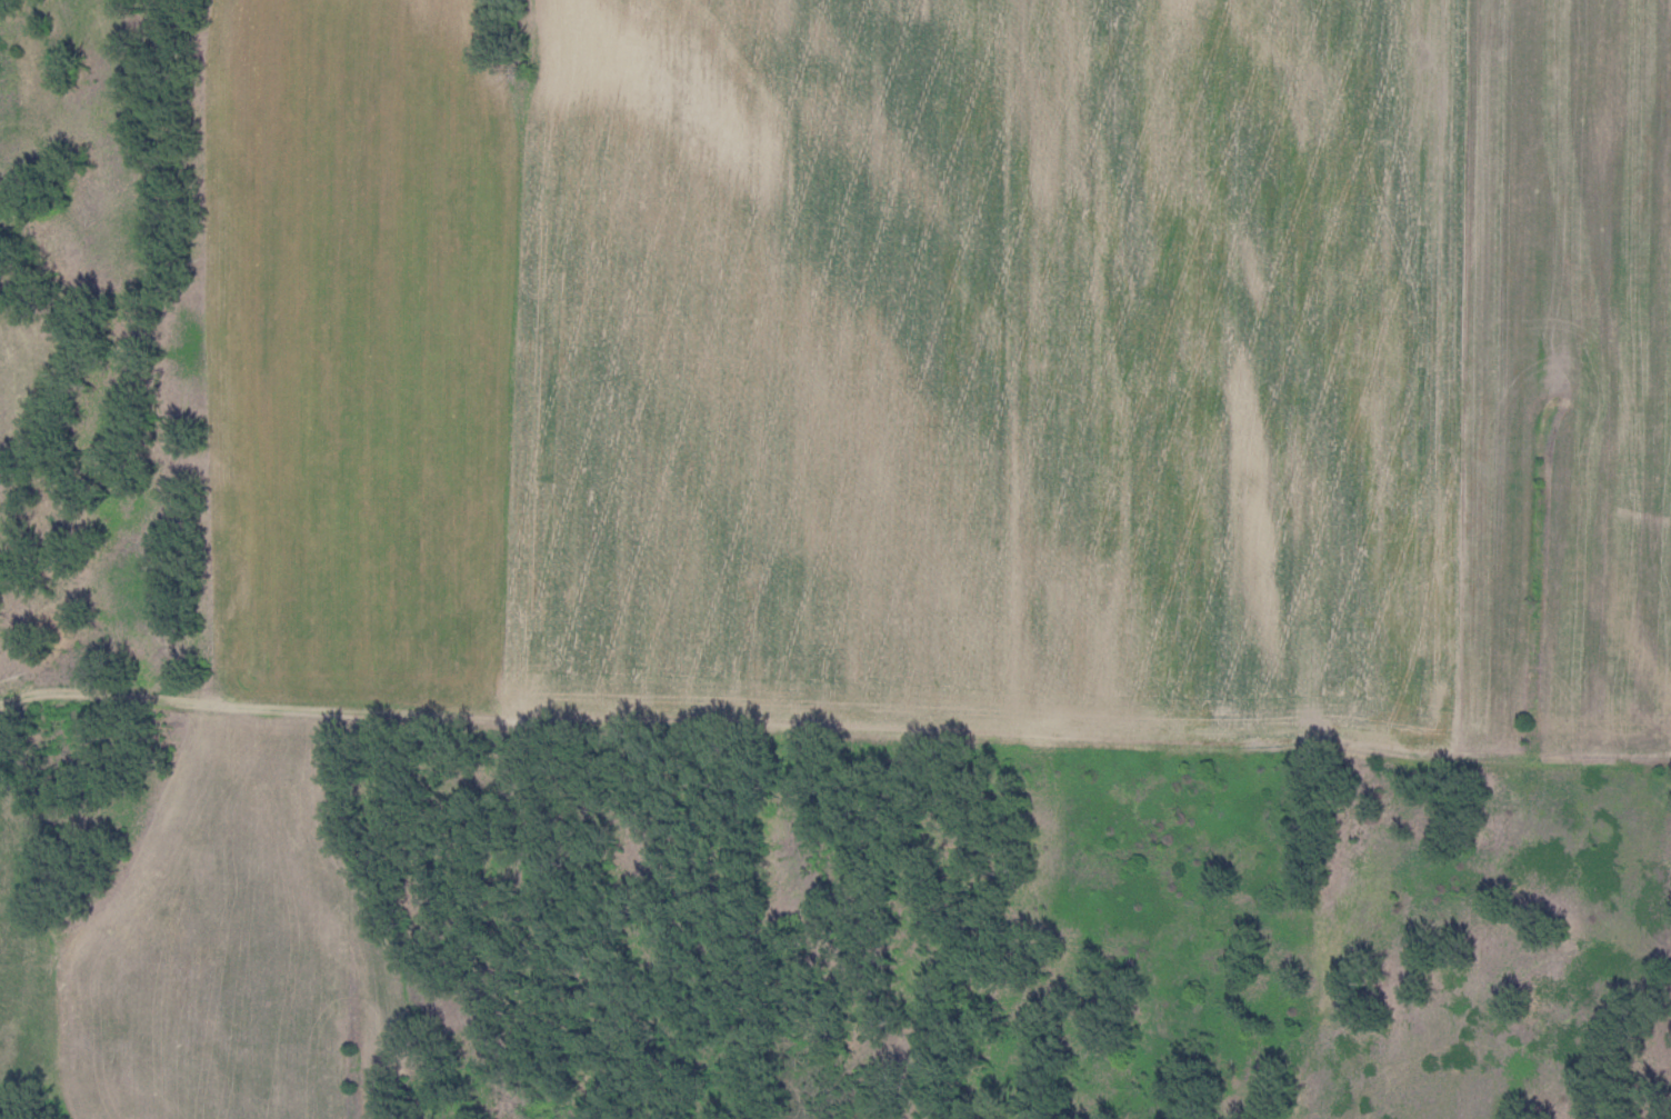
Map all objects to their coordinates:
road: (834, 751)

